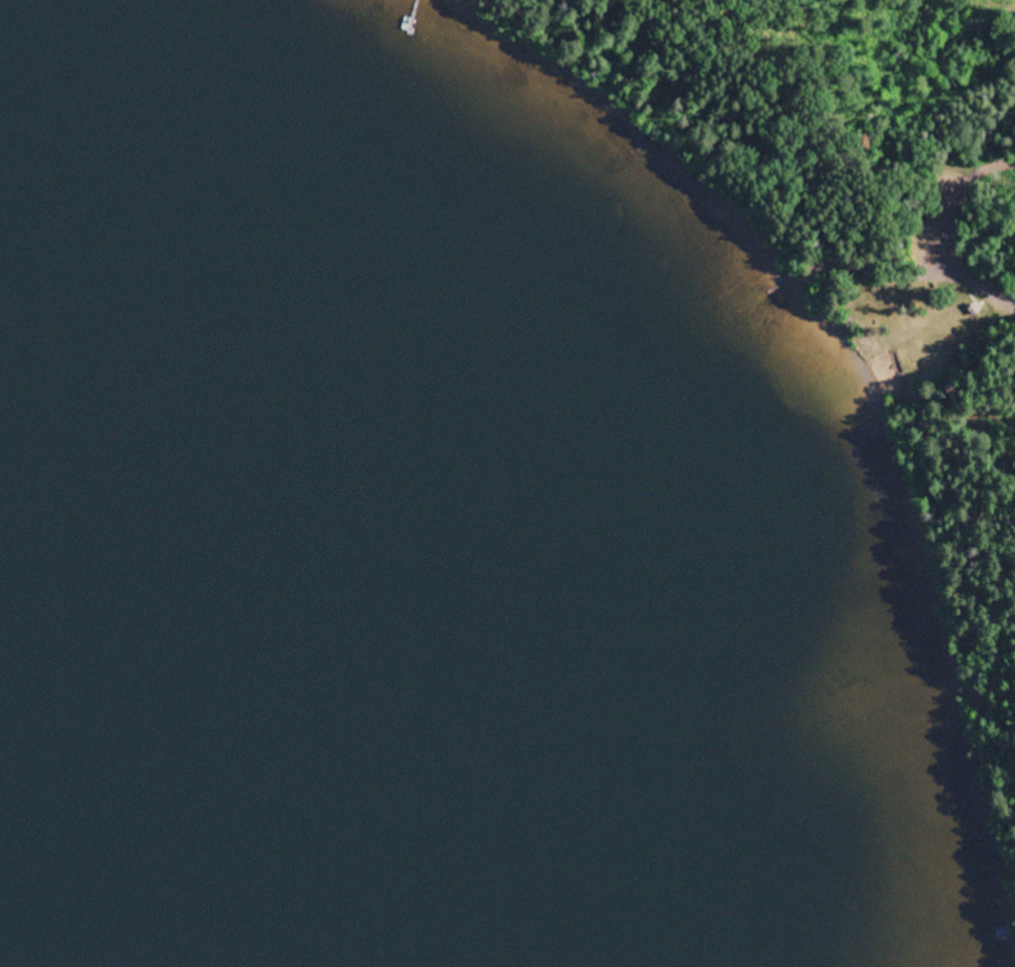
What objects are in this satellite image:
park: (860, 288)

